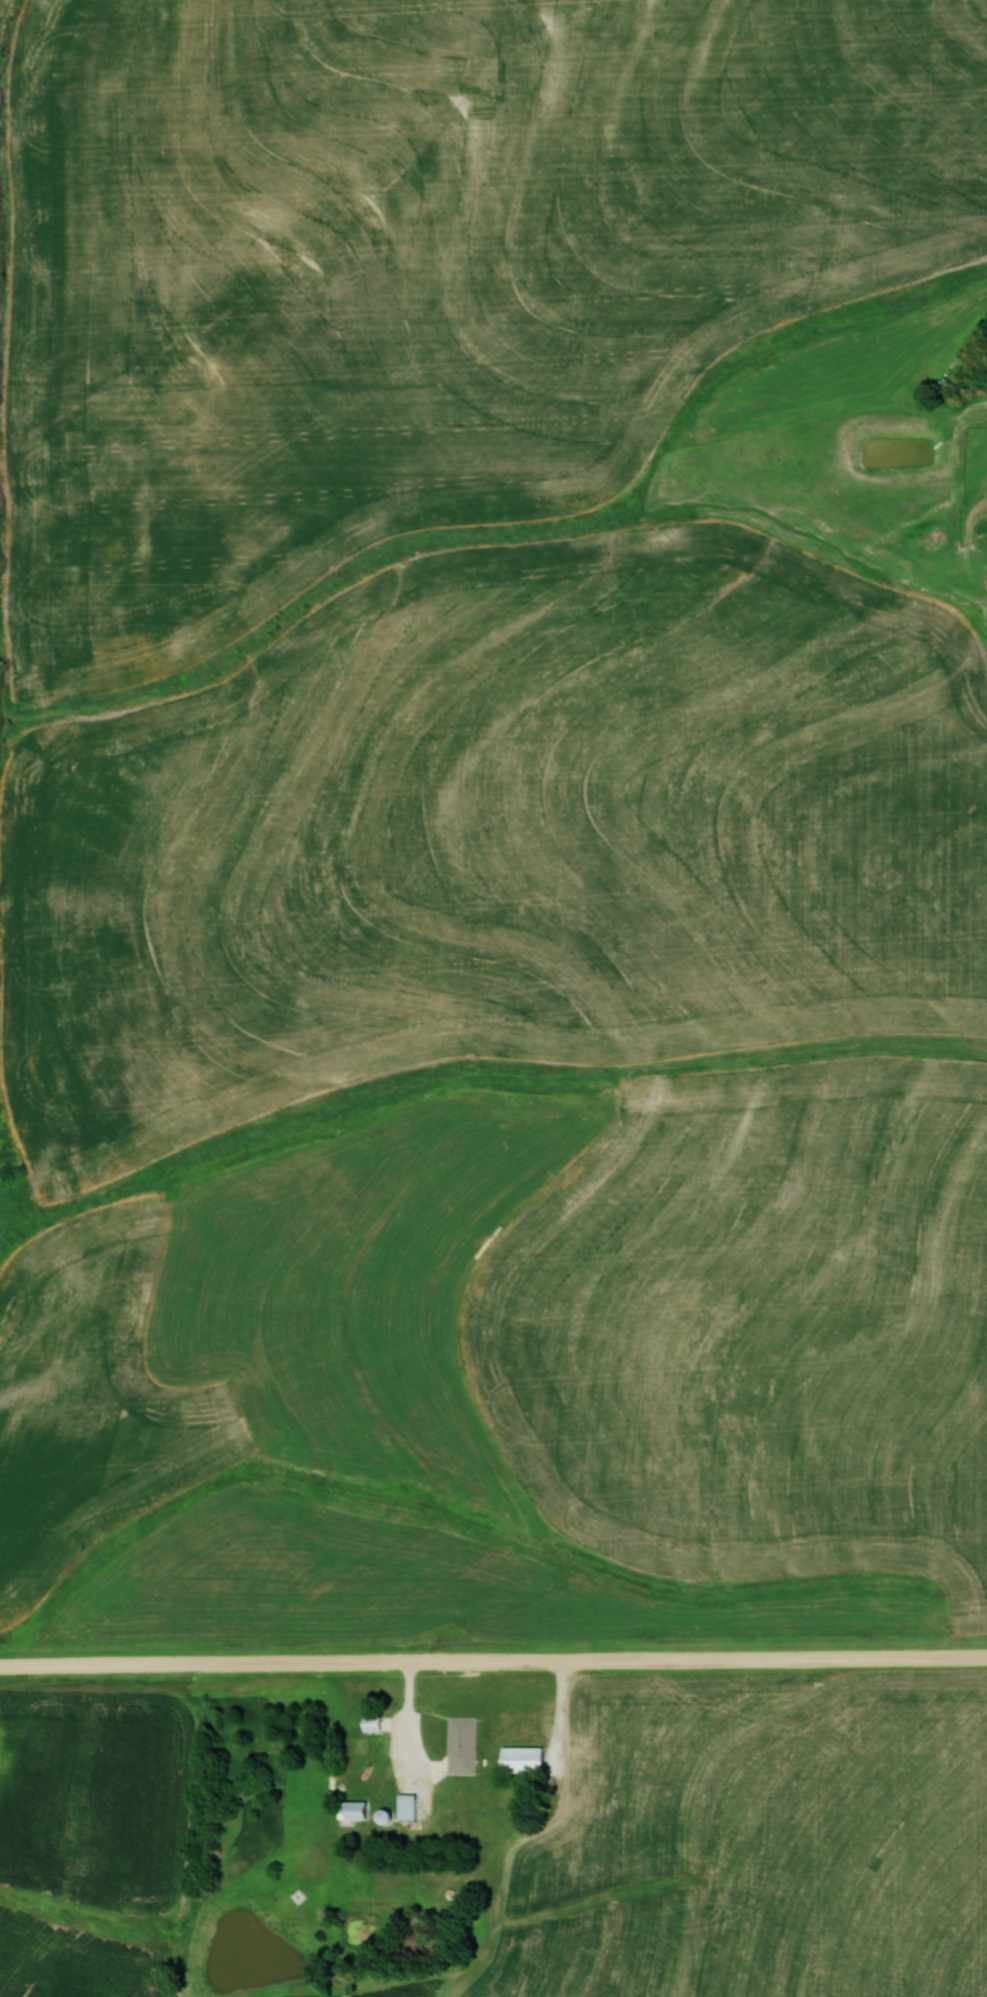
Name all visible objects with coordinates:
road: (493, 1665)
road: (410, 1721)
building: (375, 1723)
building: (463, 1745)
building: (527, 1763)
building: (411, 1806)
building: (360, 1810)

